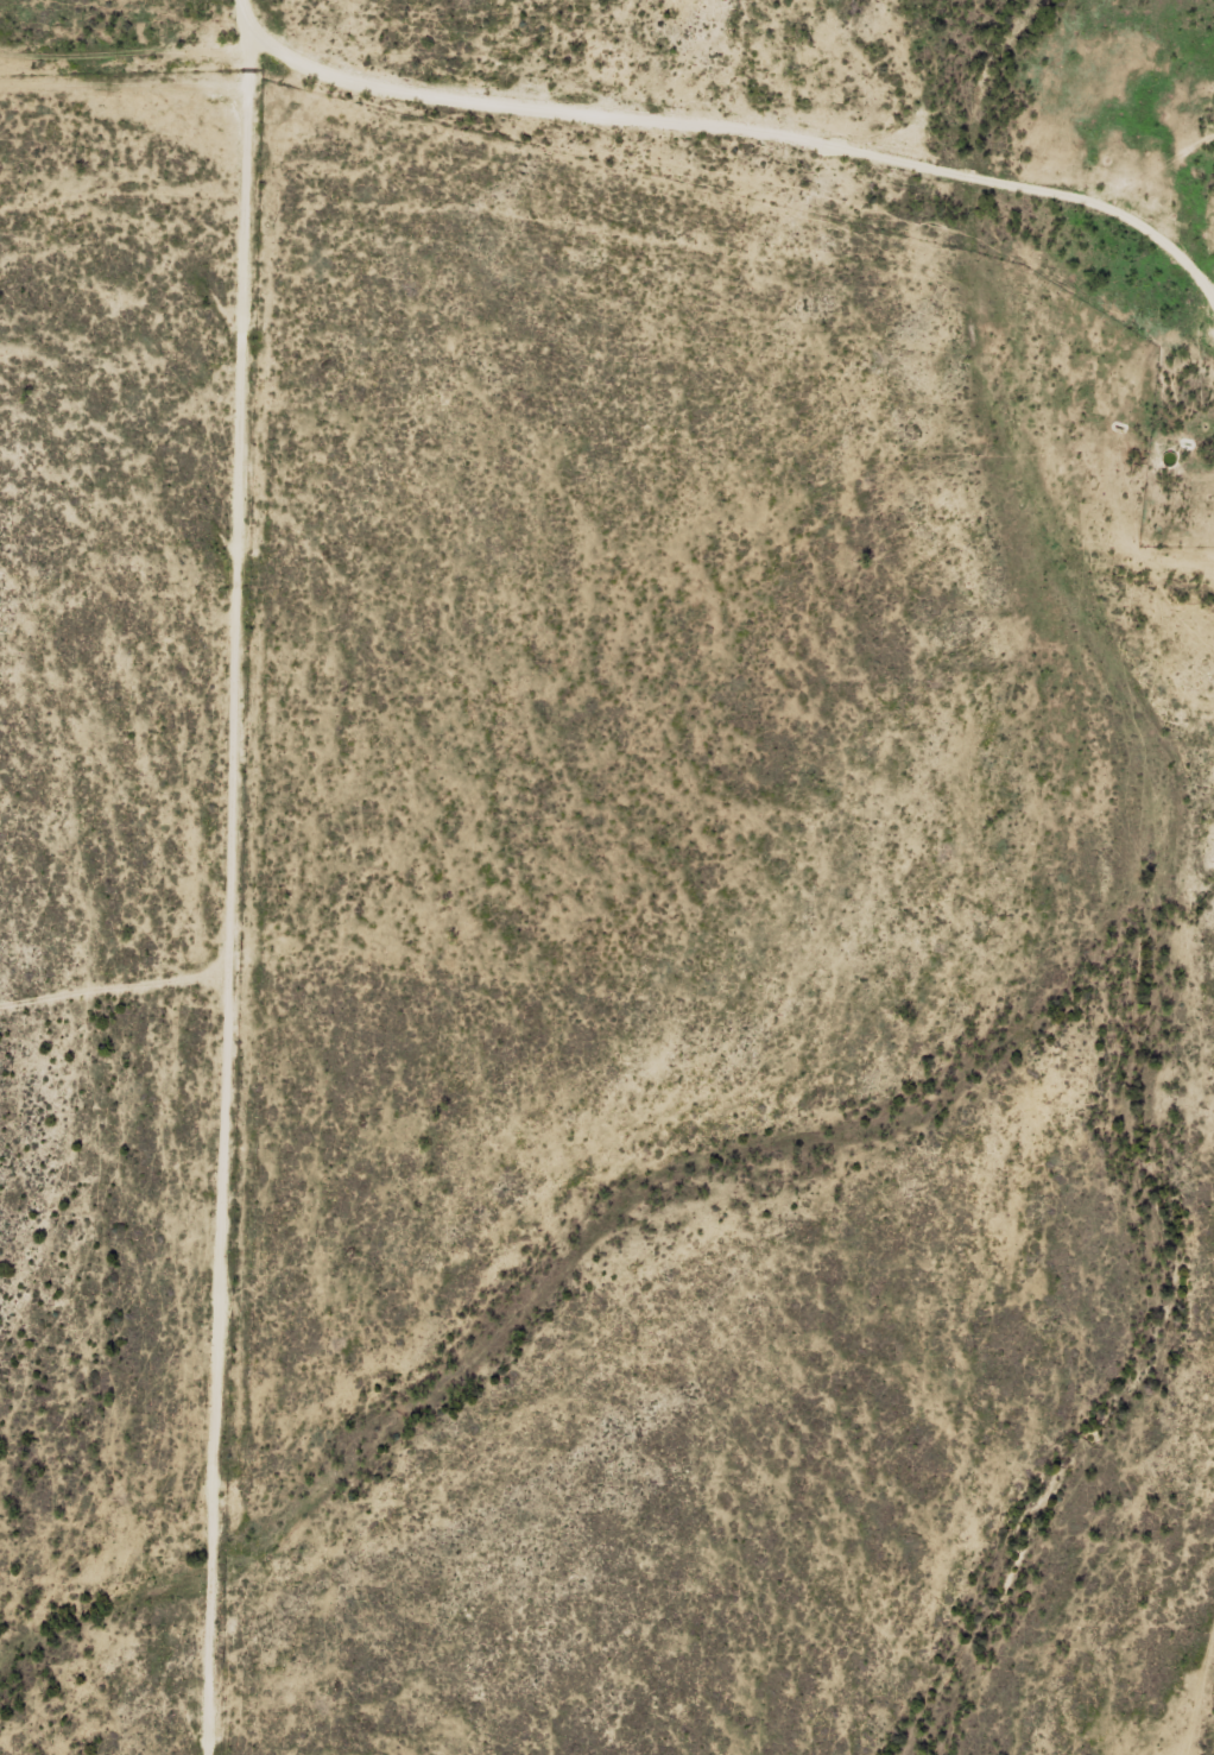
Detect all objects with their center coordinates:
road: (614, 130)
road: (1126, 246)
road: (1213, 274)
road: (254, 877)
road: (125, 1005)

